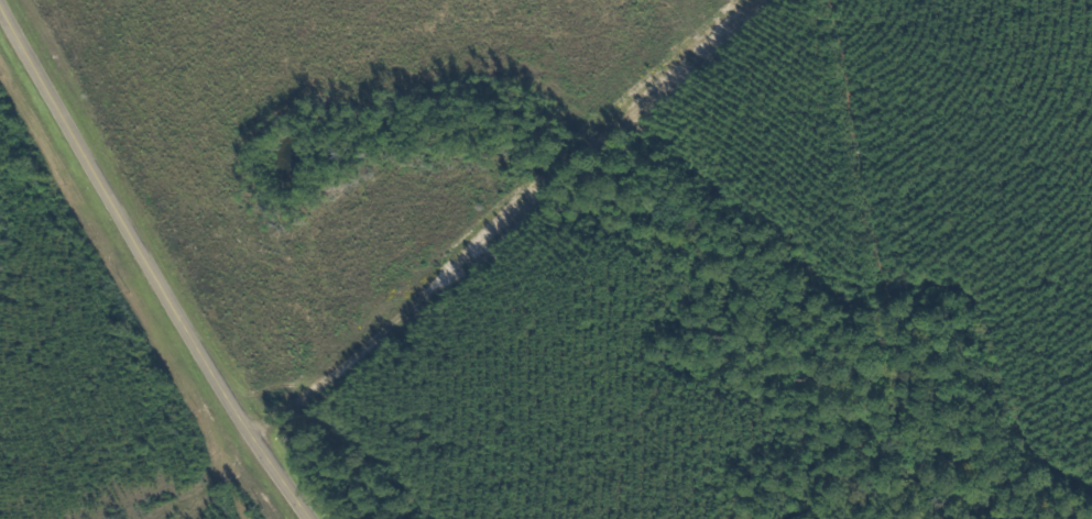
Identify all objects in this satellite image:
road: (480, 217)
road: (149, 265)

